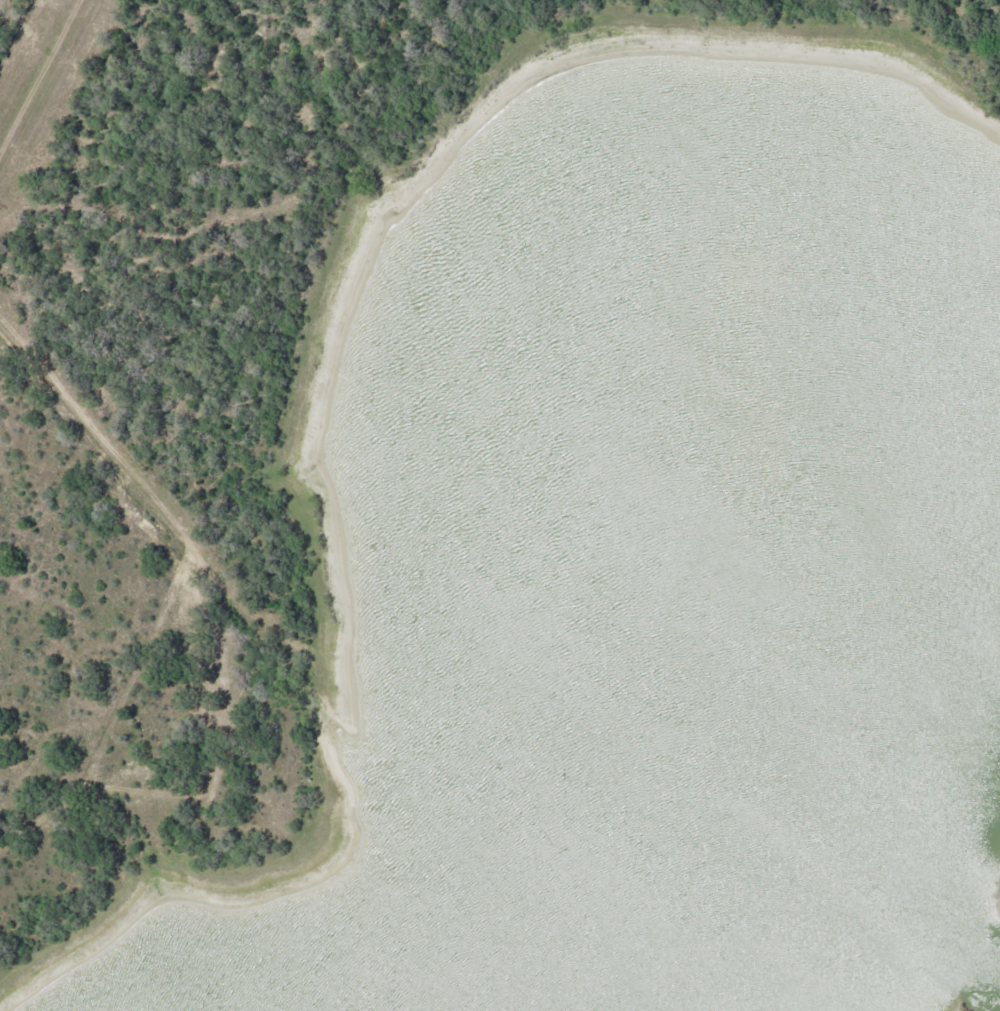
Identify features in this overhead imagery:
road: (37, 71)

